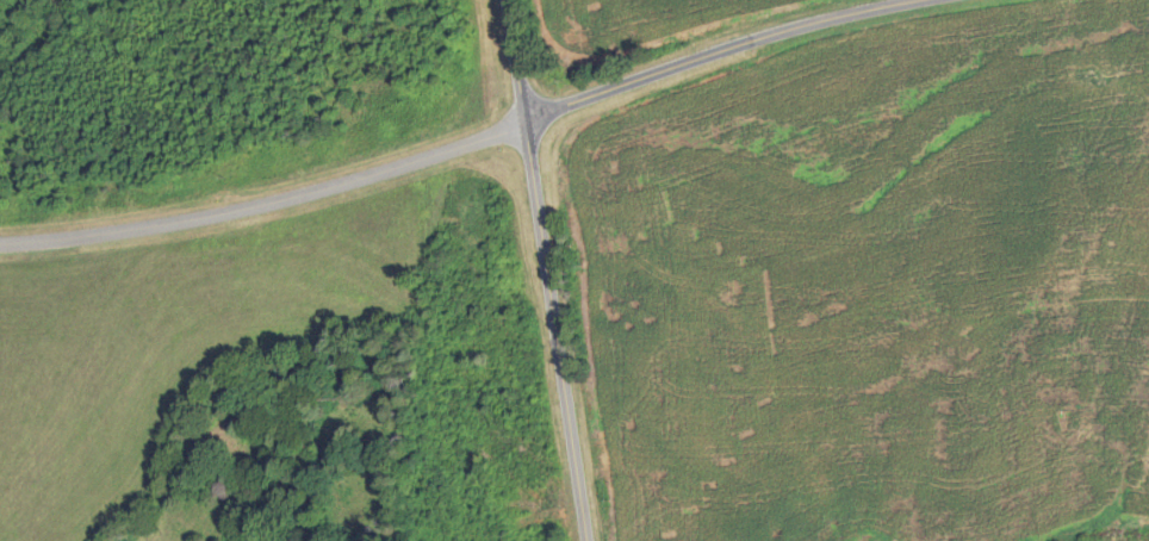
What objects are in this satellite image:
road: (883, 5)
road: (434, 163)
road: (546, 269)

